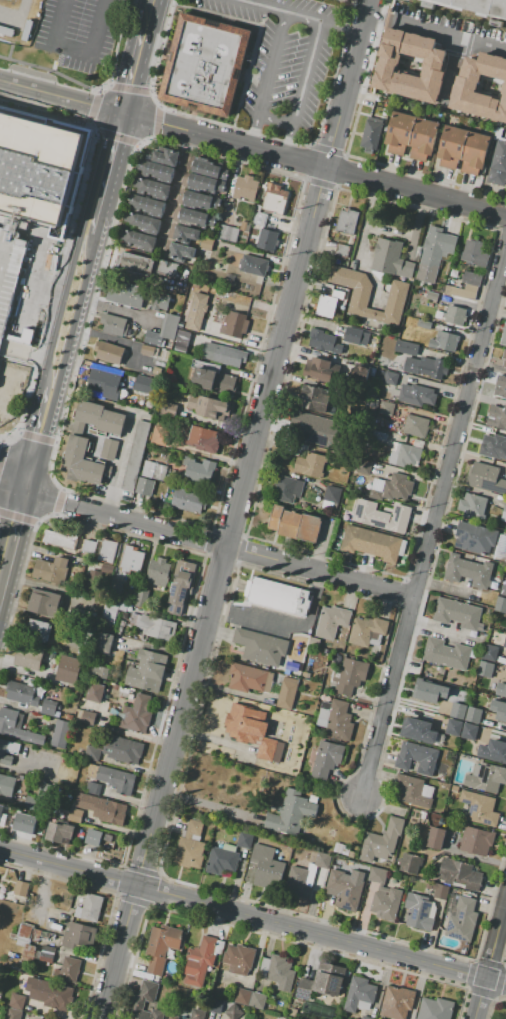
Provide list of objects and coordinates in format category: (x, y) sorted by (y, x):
building: (9, 2)
road: (268, 5)
building: (477, 7)
road: (150, 11)
road: (303, 15)
road: (341, 25)
building: (6, 30)
road: (436, 30)
parking lot: (79, 32)
road: (76, 49)
road: (8, 52)
building: (410, 64)
road: (52, 65)
building: (209, 65)
road: (50, 68)
road: (135, 68)
road: (450, 69)
road: (347, 83)
building: (480, 84)
road: (110, 85)
road: (129, 87)
road: (102, 88)
road: (149, 91)
road: (96, 93)
road: (61, 96)
road: (155, 99)
road: (92, 107)
road: (159, 107)
traffic signals: (123, 113)
road: (156, 122)
building: (399, 132)
building: (371, 135)
road: (117, 137)
road: (155, 138)
building: (423, 139)
road: (147, 141)
road: (138, 144)
road: (326, 149)
building: (463, 150)
road: (347, 155)
building: (167, 157)
road: (111, 159)
road: (306, 162)
road: (314, 164)
building: (499, 165)
building: (206, 169)
building: (36, 170)
building: (156, 170)
road: (340, 171)
building: (223, 175)
building: (202, 182)
road: (318, 182)
building: (220, 186)
building: (152, 188)
building: (245, 188)
road: (179, 191)
building: (197, 199)
building: (275, 199)
building: (216, 202)
building: (148, 205)
road: (499, 213)
building: (192, 217)
building: (259, 218)
building: (211, 220)
building: (143, 222)
building: (347, 222)
building: (244, 226)
road: (386, 231)
road: (500, 231)
building: (227, 233)
building: (186, 234)
building: (141, 240)
building: (267, 240)
building: (206, 243)
building: (342, 250)
building: (435, 251)
building: (180, 252)
building: (475, 254)
building: (391, 259)
building: (136, 264)
building: (254, 265)
building: (166, 267)
building: (454, 273)
building: (466, 285)
road: (77, 287)
building: (12, 290)
parking lot: (12, 290)
building: (124, 295)
building: (337, 295)
building: (369, 295)
building: (432, 296)
building: (159, 304)
building: (326, 306)
building: (197, 311)
building: (219, 316)
building: (454, 316)
building: (114, 325)
building: (424, 325)
building: (233, 326)
building: (163, 331)
building: (353, 335)
building: (503, 335)
building: (182, 341)
building: (323, 341)
building: (444, 341)
building: (407, 347)
building: (148, 350)
building: (108, 352)
building: (165, 355)
building: (223, 355)
building: (504, 358)
building: (158, 362)
building: (426, 366)
building: (145, 367)
building: (361, 369)
building: (320, 370)
building: (156, 371)
building: (390, 377)
building: (215, 380)
building: (103, 381)
building: (145, 384)
building: (500, 386)
building: (416, 395)
building: (314, 399)
building: (208, 407)
building: (387, 408)
building: (169, 409)
building: (101, 417)
building: (497, 418)
building: (415, 426)
building: (333, 428)
road: (38, 429)
building: (311, 432)
building: (160, 435)
building: (201, 440)
building: (493, 447)
building: (109, 449)
building: (404, 454)
building: (135, 455)
building: (82, 463)
building: (310, 465)
building: (364, 467)
road: (13, 469)
building: (199, 469)
building: (154, 471)
building: (485, 478)
building: (145, 486)
road: (11, 487)
building: (391, 488)
building: (288, 489)
traffic signals: (22, 490)
building: (332, 494)
building: (188, 500)
building: (472, 505)
building: (503, 512)
building: (382, 516)
road: (124, 517)
road: (433, 517)
building: (294, 524)
road: (230, 527)
road: (11, 534)
building: (475, 538)
building: (60, 539)
building: (371, 543)
building: (88, 546)
building: (500, 546)
building: (106, 550)
building: (131, 560)
building: (51, 570)
road: (319, 571)
building: (469, 571)
building: (158, 572)
road: (404, 577)
building: (93, 581)
building: (181, 586)
building: (115, 588)
road: (334, 589)
building: (503, 590)
building: (277, 596)
building: (141, 597)
building: (45, 603)
building: (500, 604)
building: (112, 610)
building: (458, 614)
building: (82, 616)
building: (331, 622)
building: (121, 623)
building: (153, 626)
road: (283, 626)
building: (39, 630)
building: (367, 630)
building: (106, 643)
building: (505, 645)
building: (261, 646)
building: (446, 653)
building: (490, 653)
building: (28, 657)
building: (291, 667)
building: (485, 669)
building: (68, 670)
building: (147, 671)
building: (98, 672)
building: (305, 675)
building: (351, 675)
building: (249, 678)
building: (501, 689)
building: (430, 690)
building: (121, 691)
building: (94, 692)
building: (21, 693)
building: (288, 693)
building: (48, 707)
building: (499, 709)
building: (458, 711)
building: (137, 714)
building: (473, 714)
building: (68, 716)
building: (88, 717)
building: (338, 721)
building: (17, 727)
building: (454, 727)
building: (418, 730)
building: (253, 731)
building: (469, 731)
building: (60, 733)
building: (122, 749)
building: (493, 751)
building: (7, 752)
building: (92, 753)
building: (417, 758)
building: (326, 759)
building: (20, 777)
building: (486, 777)
building: (113, 778)
building: (6, 786)
building: (93, 788)
building: (413, 791)
building: (41, 798)
road: (208, 806)
building: (477, 808)
building: (103, 809)
building: (1, 811)
building: (291, 812)
building: (75, 815)
building: (25, 824)
building: (59, 832)
building: (93, 837)
building: (436, 837)
building: (245, 840)
building: (476, 840)
building: (381, 841)
building: (190, 846)
building: (343, 850)
building: (222, 860)
building: (411, 863)
building: (267, 867)
road: (67, 868)
building: (459, 874)
building: (308, 876)
building: (428, 886)
building: (344, 889)
building: (22, 890)
building: (440, 890)
building: (384, 896)
building: (87, 906)
building: (420, 912)
building: (461, 917)
building: (79, 936)
road: (320, 936)
building: (27, 938)
building: (161, 946)
building: (47, 951)
road: (118, 952)
building: (28, 953)
road: (490, 958)
road: (504, 958)
building: (45, 959)
building: (239, 959)
building: (201, 961)
road: (489, 963)
building: (69, 969)
building: (280, 972)
road: (470, 973)
building: (325, 980)
road: (499, 982)
building: (148, 992)
building: (50, 993)
building: (359, 993)
road: (480, 993)
building: (242, 996)
building: (257, 1000)
building: (16, 1001)
building: (397, 1002)
road: (491, 1002)
building: (216, 1005)
building: (435, 1008)
building: (233, 1012)
building: (291, 1012)
building: (13, 1013)
building: (198, 1014)
building: (173, 1016)
building: (505, 1016)
building: (365, 1017)

